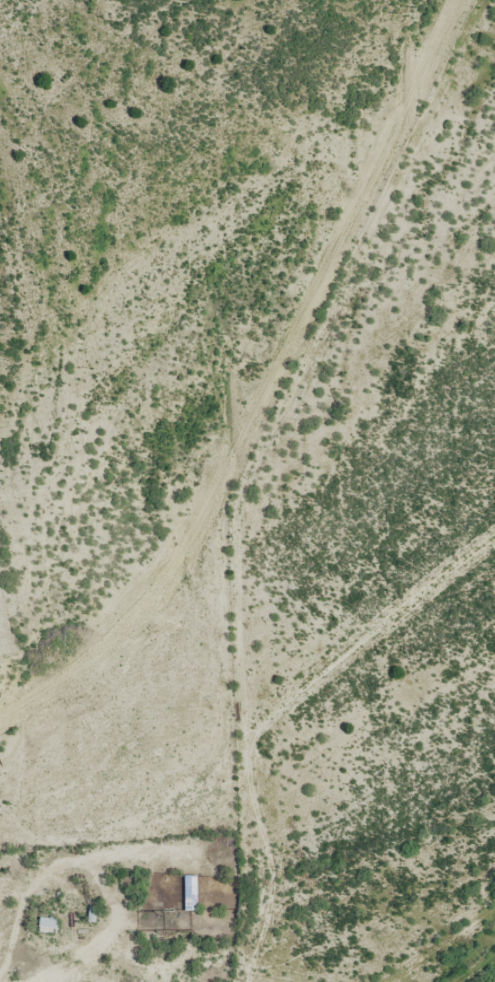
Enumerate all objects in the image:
road: (228, 746)
road: (375, 873)
road: (328, 931)

